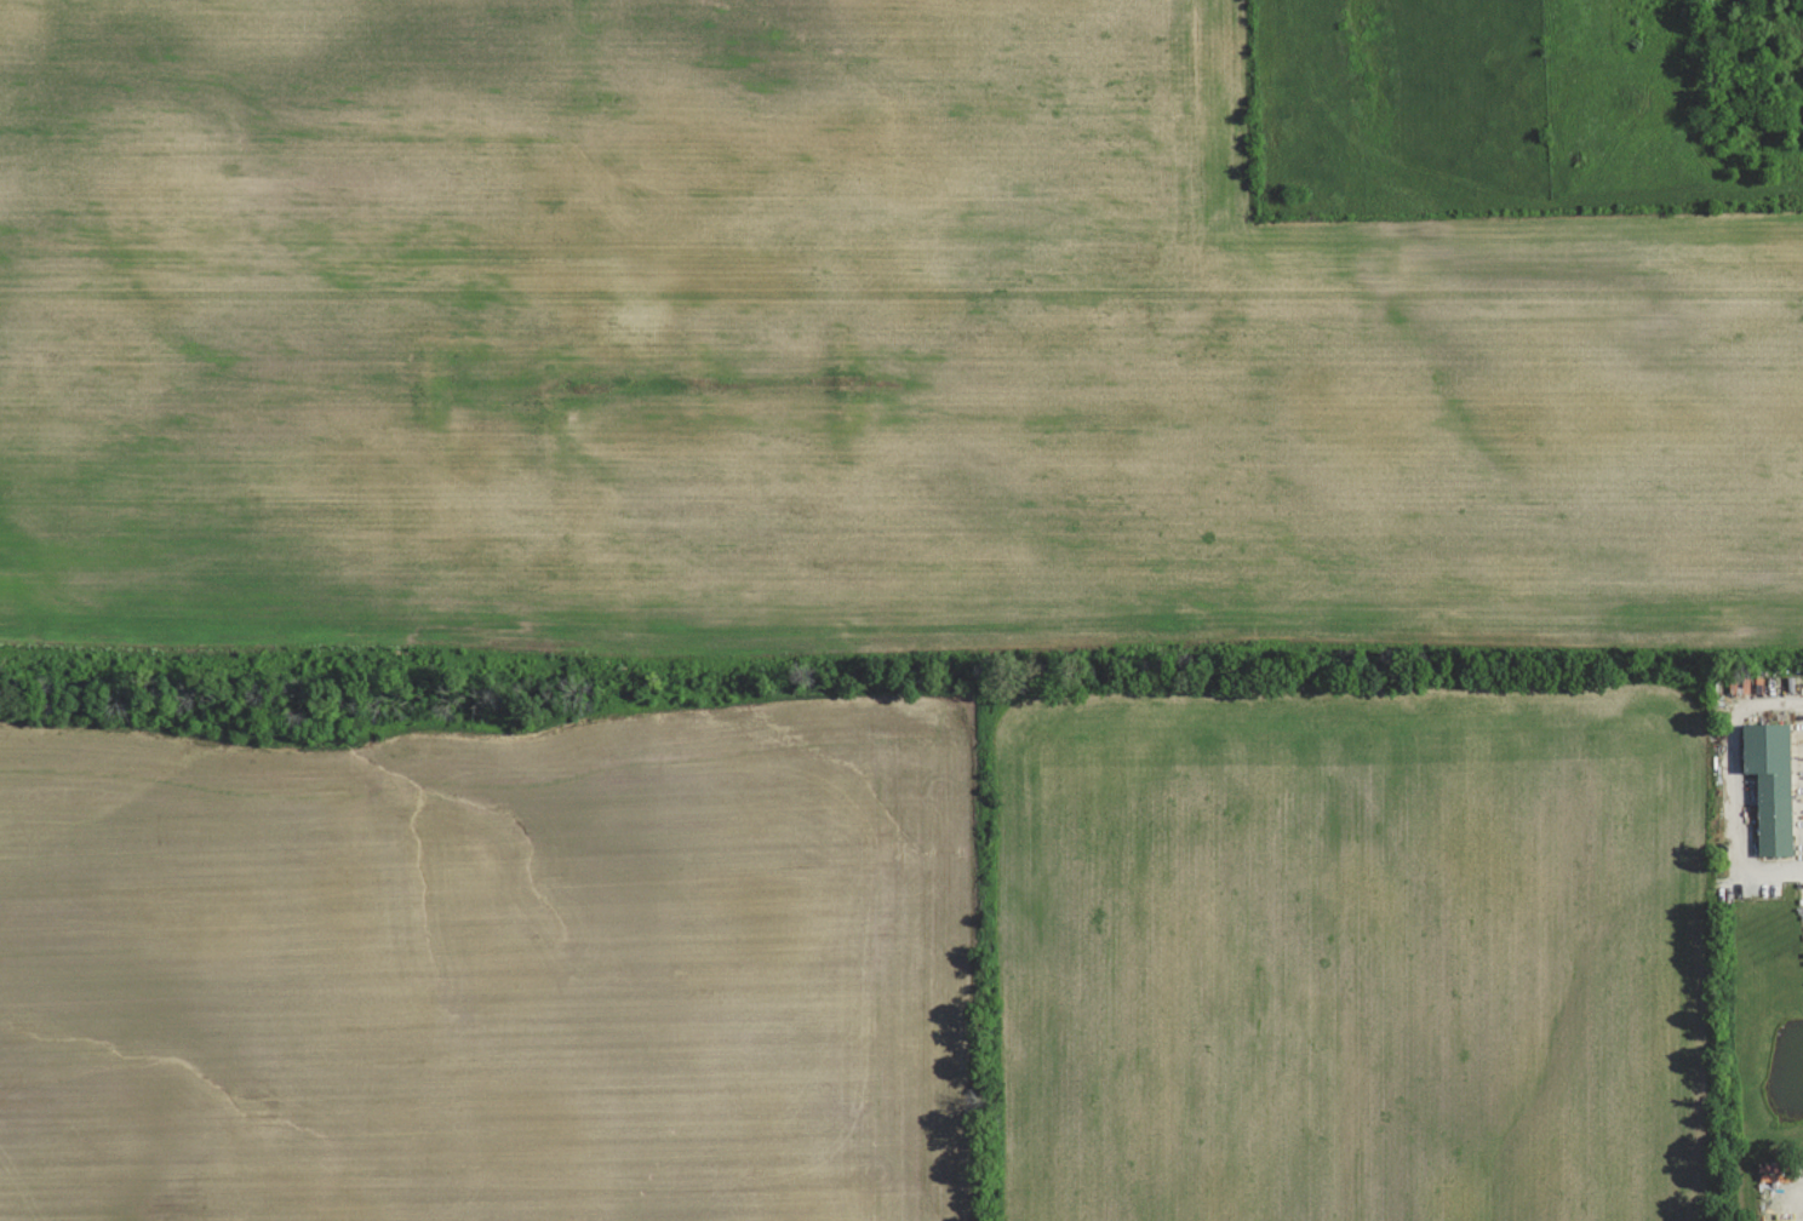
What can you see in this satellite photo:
road: (1739, 784)
building: (1770, 785)

